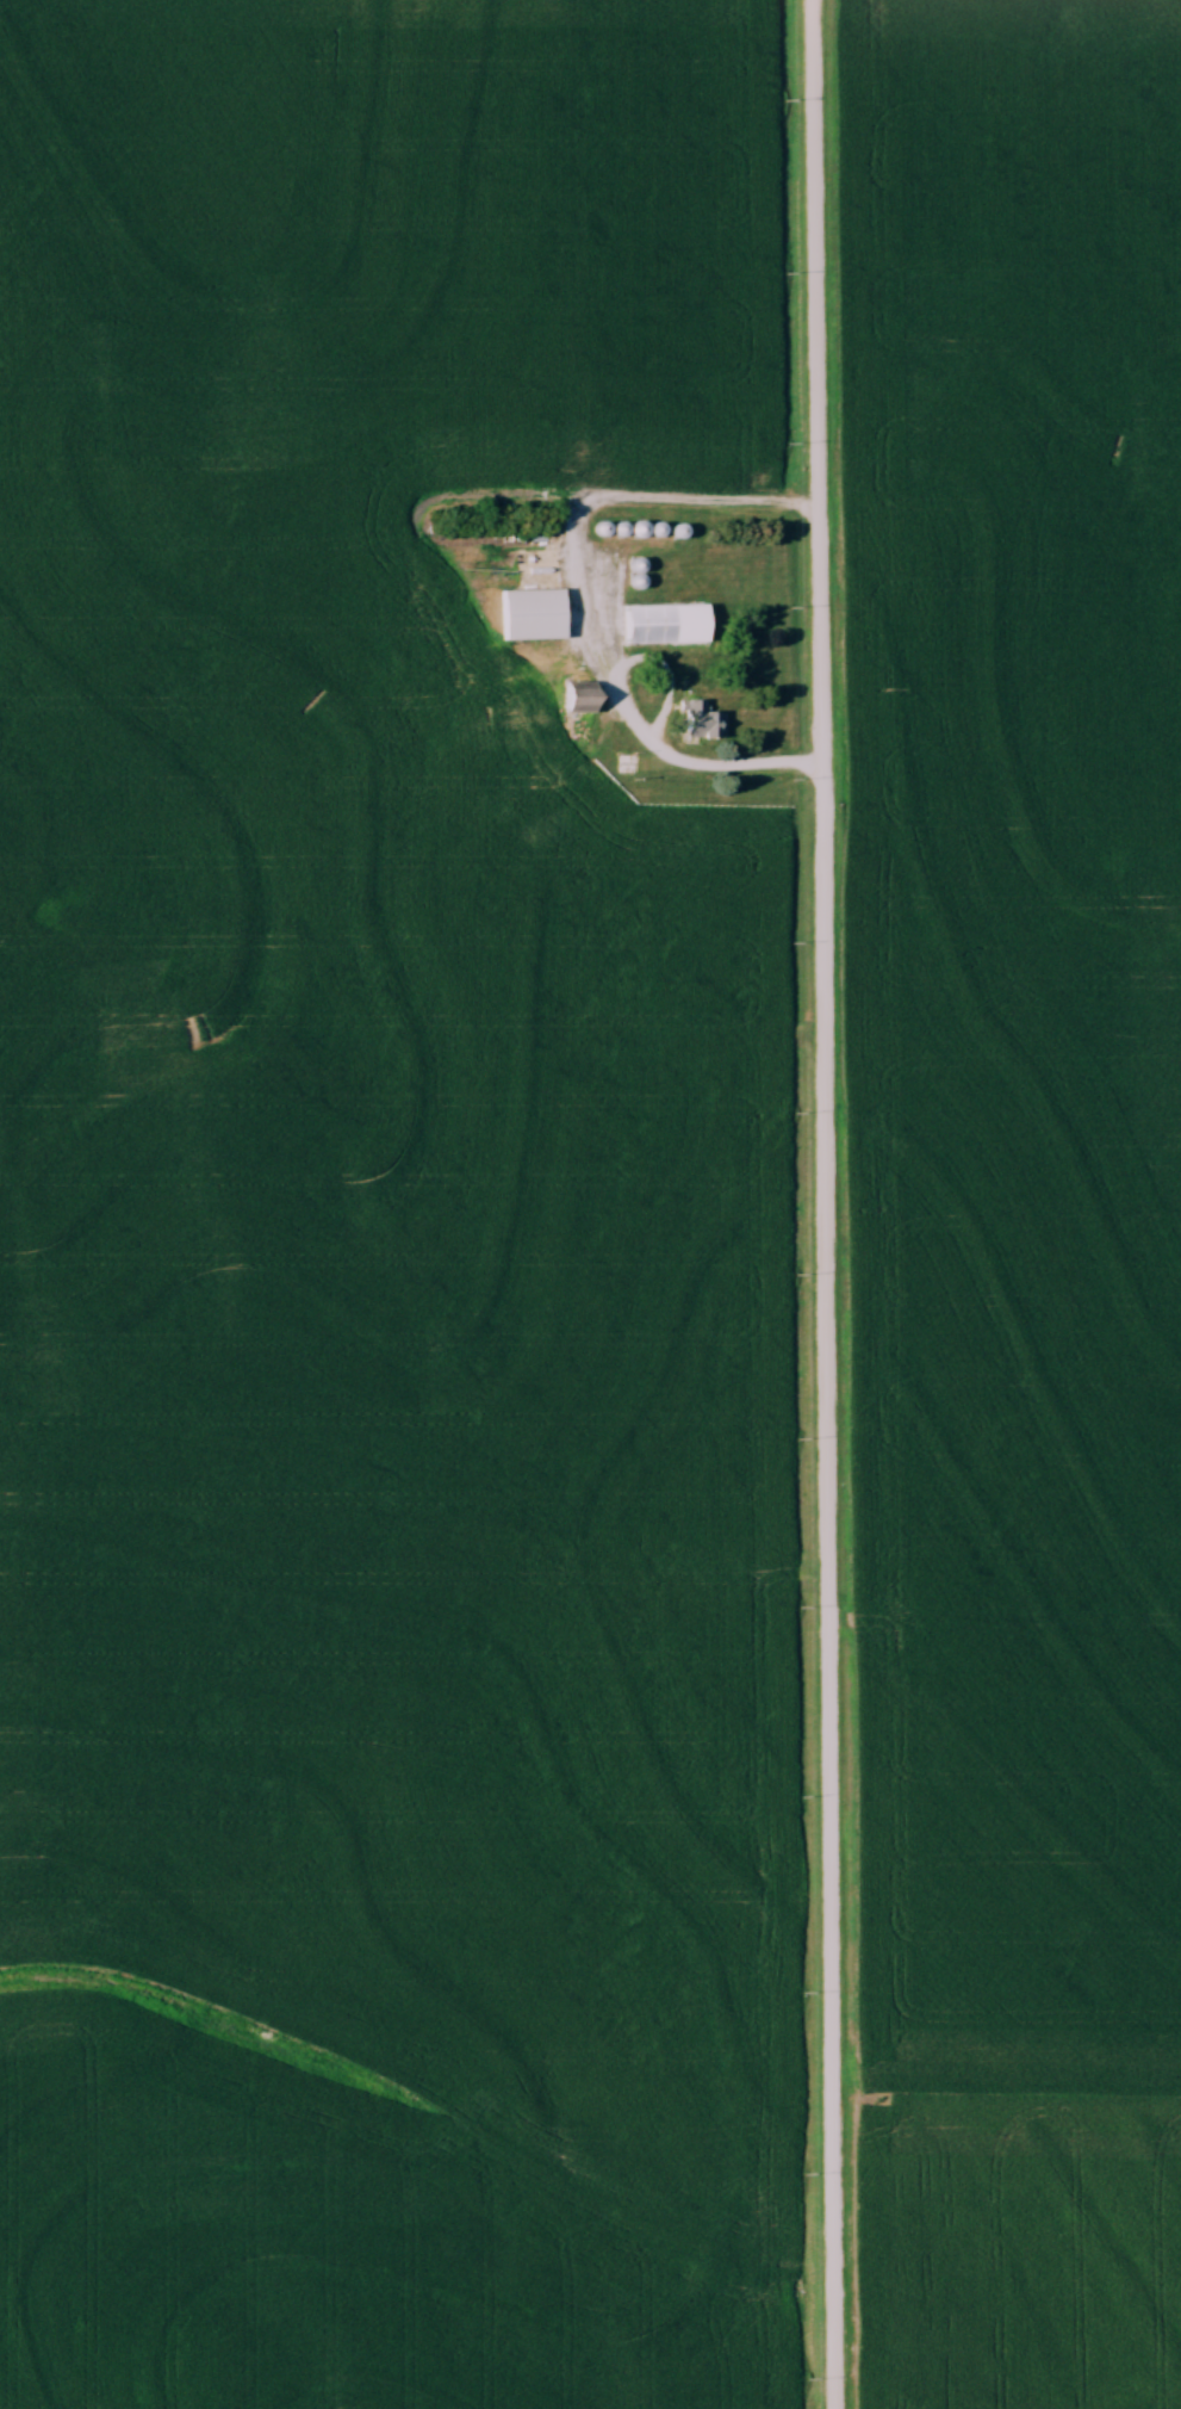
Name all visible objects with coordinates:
building: (536, 613)
building: (670, 623)
building: (588, 696)
building: (703, 719)
road: (669, 756)
road: (827, 1203)

